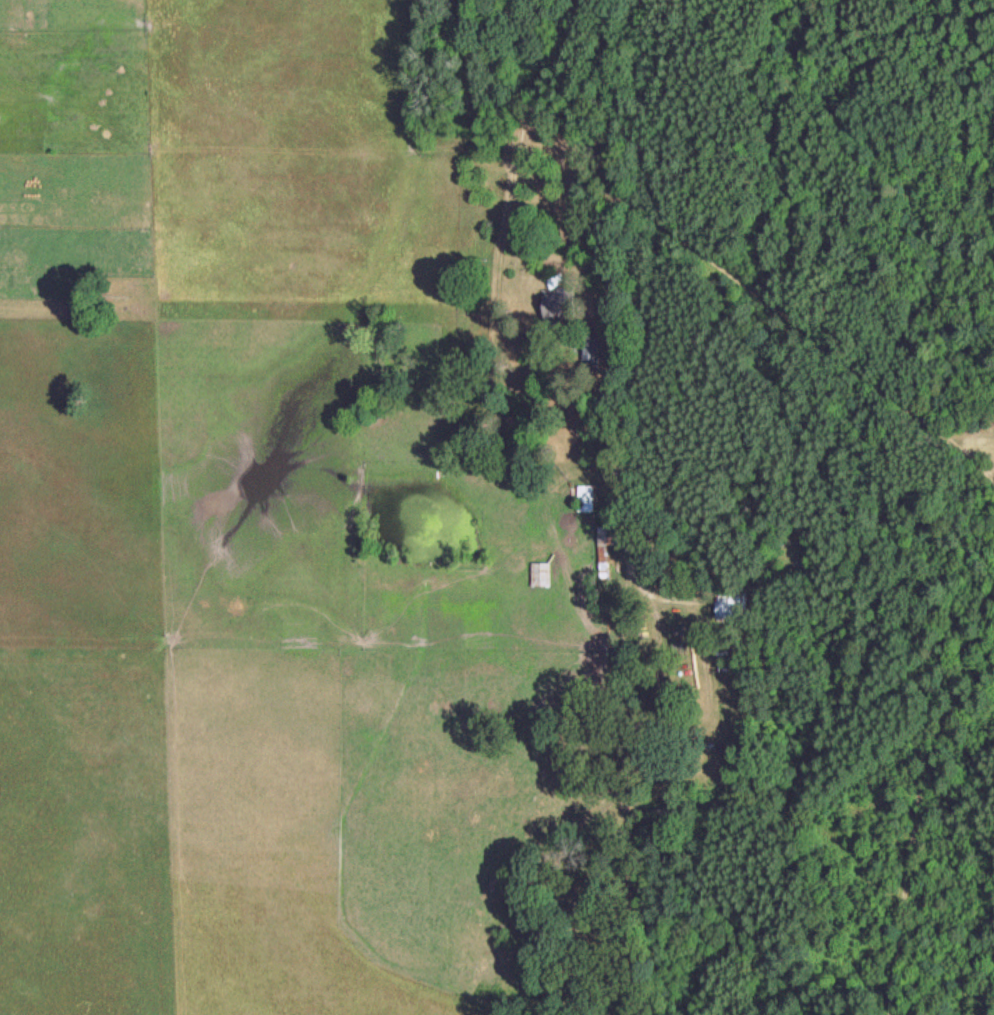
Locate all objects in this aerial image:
road: (608, 169)
building: (561, 298)
building: (577, 499)
building: (608, 545)
building: (542, 574)
building: (733, 603)

